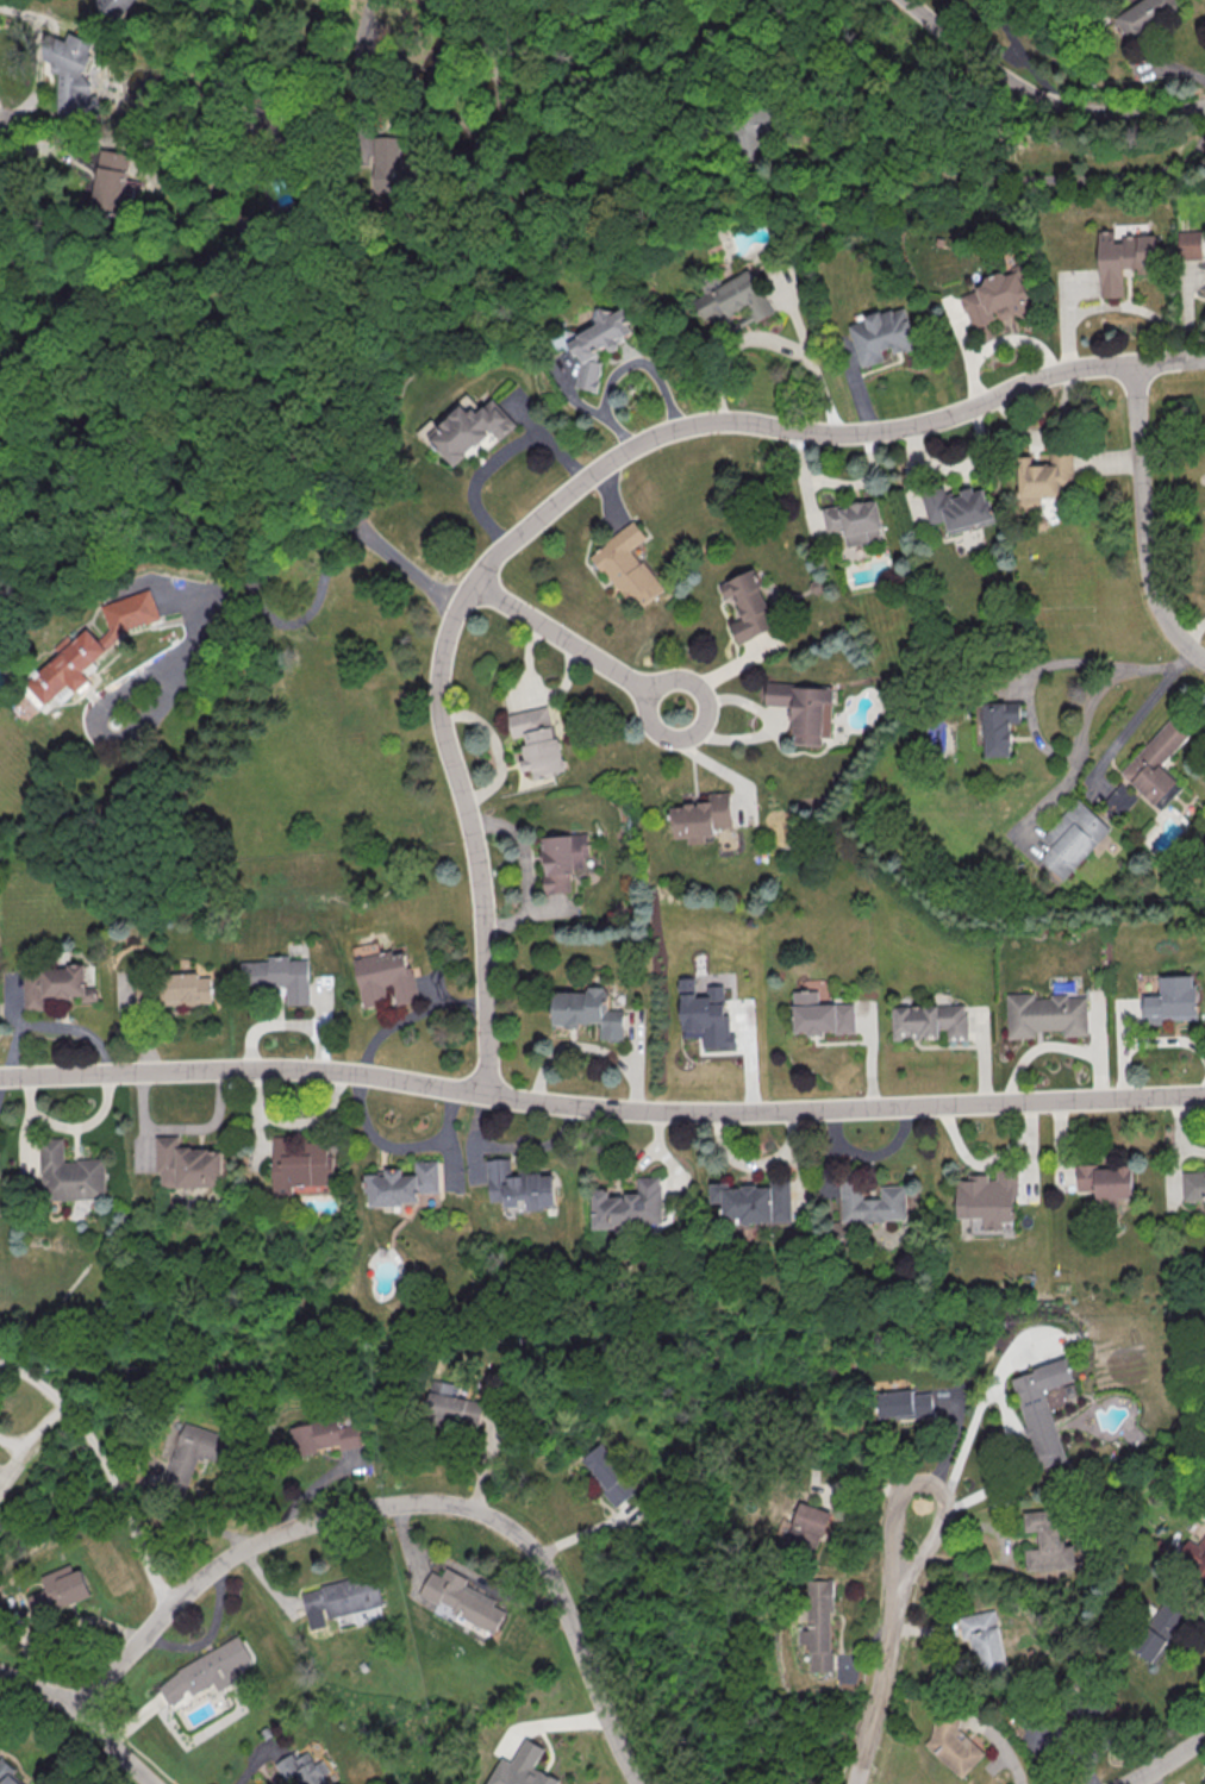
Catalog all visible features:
building: (113, 7)
building: (1143, 14)
road: (331, 50)
road: (357, 71)
building: (71, 74)
road: (1039, 100)
building: (760, 132)
road: (64, 150)
building: (389, 167)
road: (1004, 182)
building: (113, 183)
building: (1190, 246)
building: (1123, 259)
building: (998, 298)
building: (735, 299)
building: (881, 336)
road: (768, 342)
building: (599, 344)
road: (642, 364)
road: (587, 408)
building: (472, 428)
road: (499, 461)
building: (1043, 476)
road: (575, 489)
building: (957, 507)
building: (854, 521)
road: (1142, 522)
road: (268, 564)
building: (628, 567)
building: (748, 606)
building: (90, 646)
road: (577, 647)
building: (805, 711)
building: (999, 726)
road: (1082, 731)
road: (1123, 733)
building: (538, 740)
road: (710, 762)
building: (1159, 762)
building: (1118, 801)
building: (701, 818)
building: (1072, 840)
building: (561, 860)
building: (279, 976)
building: (386, 977)
building: (52, 985)
building: (187, 989)
building: (1170, 1002)
building: (588, 1012)
building: (820, 1014)
building: (704, 1015)
building: (1045, 1016)
building: (929, 1024)
road: (600, 1108)
building: (188, 1166)
building: (302, 1166)
building: (70, 1176)
building: (1105, 1181)
building: (1193, 1185)
building: (405, 1187)
building: (522, 1188)
building: (430, 1198)
building: (988, 1198)
building: (872, 1203)
building: (755, 1204)
building: (630, 1206)
building: (449, 1403)
building: (903, 1403)
building: (1039, 1409)
road: (1010, 1415)
road: (33, 1433)
building: (321, 1435)
building: (192, 1452)
road: (105, 1466)
building: (607, 1475)
road: (404, 1504)
building: (807, 1526)
building: (1047, 1541)
building: (1193, 1554)
building: (57, 1590)
building: (339, 1598)
building: (461, 1598)
building: (818, 1625)
building: (1156, 1630)
building: (982, 1639)
road: (885, 1646)
building: (205, 1671)
road: (37, 1691)
road: (998, 1744)
road: (114, 1746)
building: (953, 1746)
road: (1163, 1761)
building: (522, 1767)
building: (301, 1769)
building: (7, 1773)

